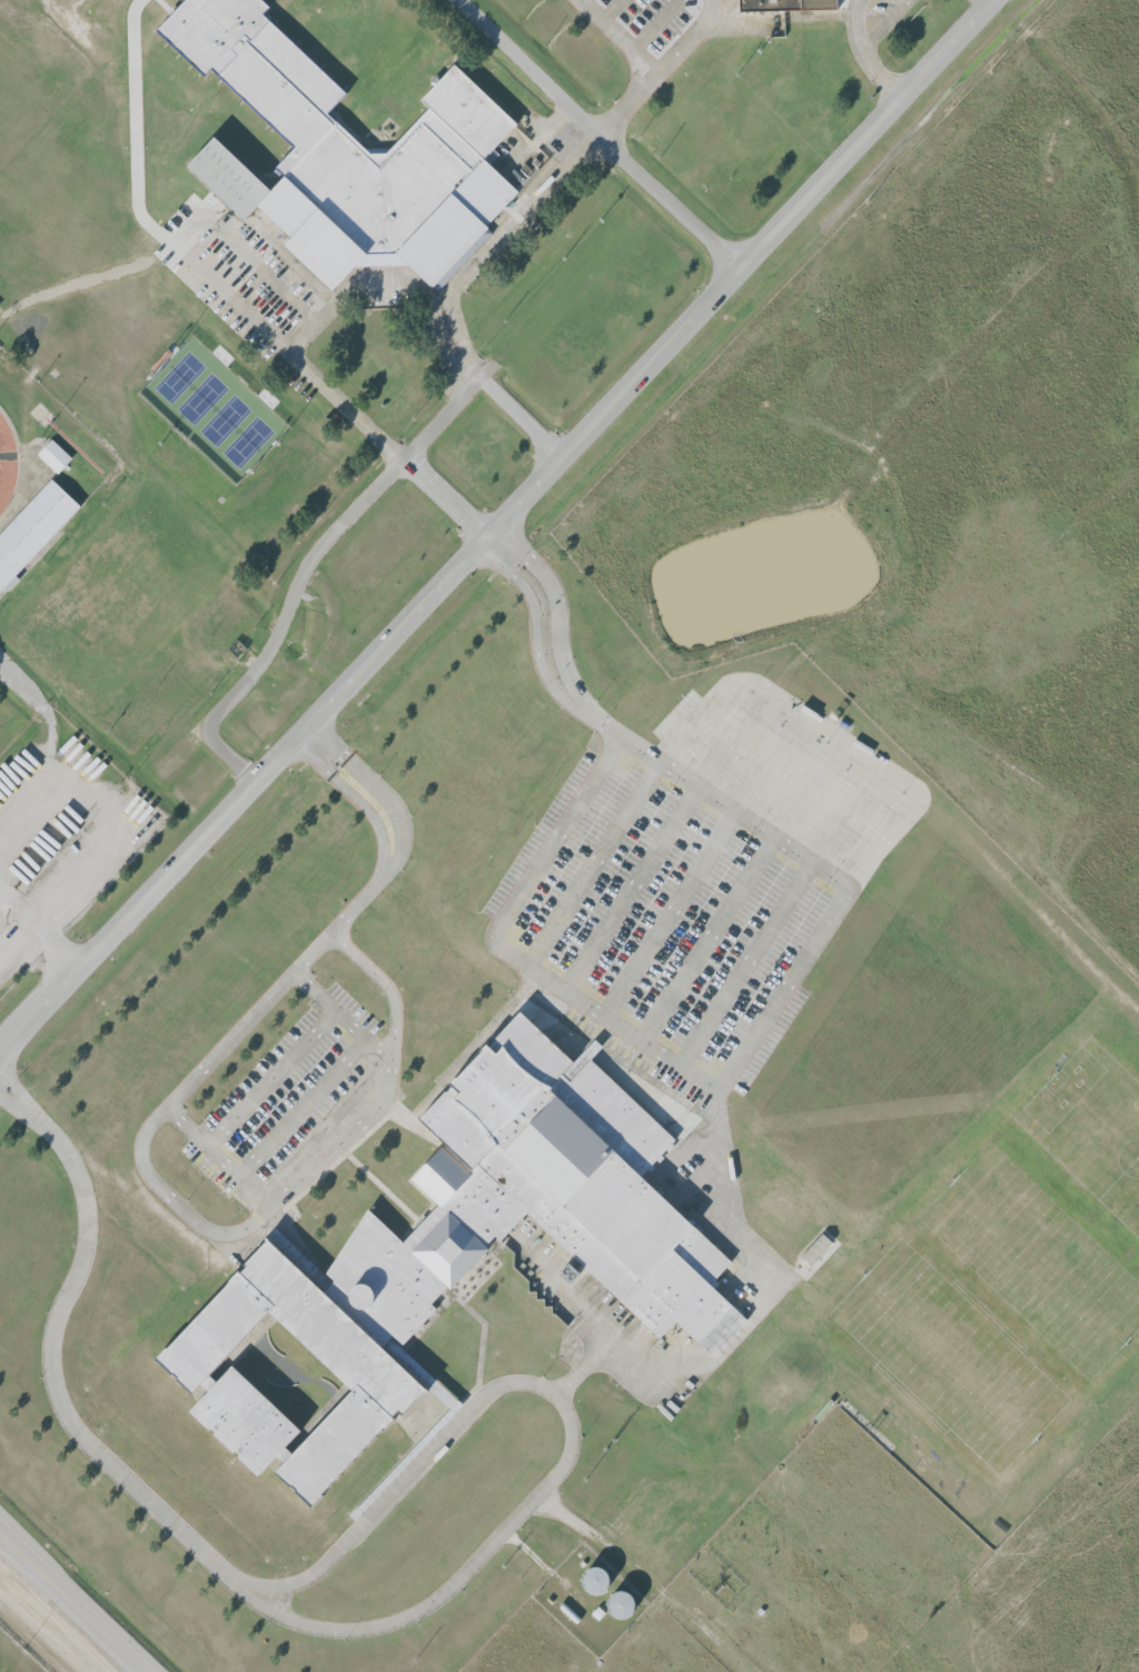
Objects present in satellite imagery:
building: (783, 4)
road: (611, 11)
road: (888, 23)
road: (654, 26)
road: (615, 37)
road: (685, 40)
road: (865, 51)
road: (627, 102)
road: (604, 131)
building: (363, 170)
road: (493, 247)
road: (386, 287)
road: (234, 299)
building: (53, 456)
road: (385, 485)
road: (494, 523)
building: (32, 528)
road: (564, 698)
road: (835, 734)
road: (48, 745)
road: (389, 864)
road: (354, 902)
road: (37, 930)
road: (374, 977)
road: (327, 1006)
road: (245, 1018)
road: (736, 1066)
road: (269, 1078)
road: (276, 1132)
road: (261, 1215)
building: (815, 1249)
building: (445, 1262)
road: (47, 1368)
road: (567, 1425)
road: (77, 1597)

